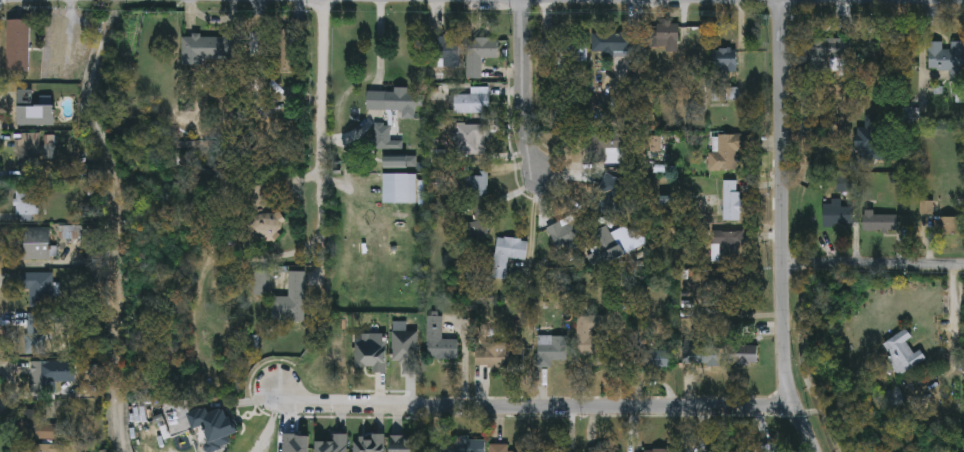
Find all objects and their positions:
building: (666, 36)
building: (613, 45)
building: (18, 46)
building: (198, 47)
building: (564, 49)
road: (922, 51)
building: (828, 53)
building: (479, 56)
building: (443, 57)
building: (725, 61)
road: (525, 89)
building: (25, 98)
building: (393, 102)
building: (473, 103)
building: (36, 117)
building: (385, 139)
building: (470, 140)
road: (323, 146)
building: (27, 152)
building: (729, 153)
building: (396, 164)
building: (480, 185)
building: (846, 185)
building: (395, 190)
building: (612, 199)
building: (732, 201)
building: (26, 204)
building: (482, 213)
building: (838, 215)
building: (265, 228)
road: (783, 228)
building: (949, 228)
building: (564, 233)
building: (38, 245)
building: (611, 246)
building: (727, 248)
road: (246, 256)
building: (508, 256)
road: (874, 265)
building: (262, 284)
building: (39, 291)
building: (295, 305)
building: (591, 336)
building: (35, 337)
building: (435, 339)
building: (406, 351)
building: (553, 351)
building: (902, 353)
building: (700, 354)
building: (503, 355)
building: (371, 356)
building: (655, 360)
building: (50, 376)
road: (534, 406)
building: (213, 423)
building: (35, 426)
building: (370, 444)
building: (403, 444)
building: (334, 445)
building: (38, 448)
building: (475, 448)
building: (770, 448)
building: (442, 449)
building: (500, 449)
building: (602, 451)

